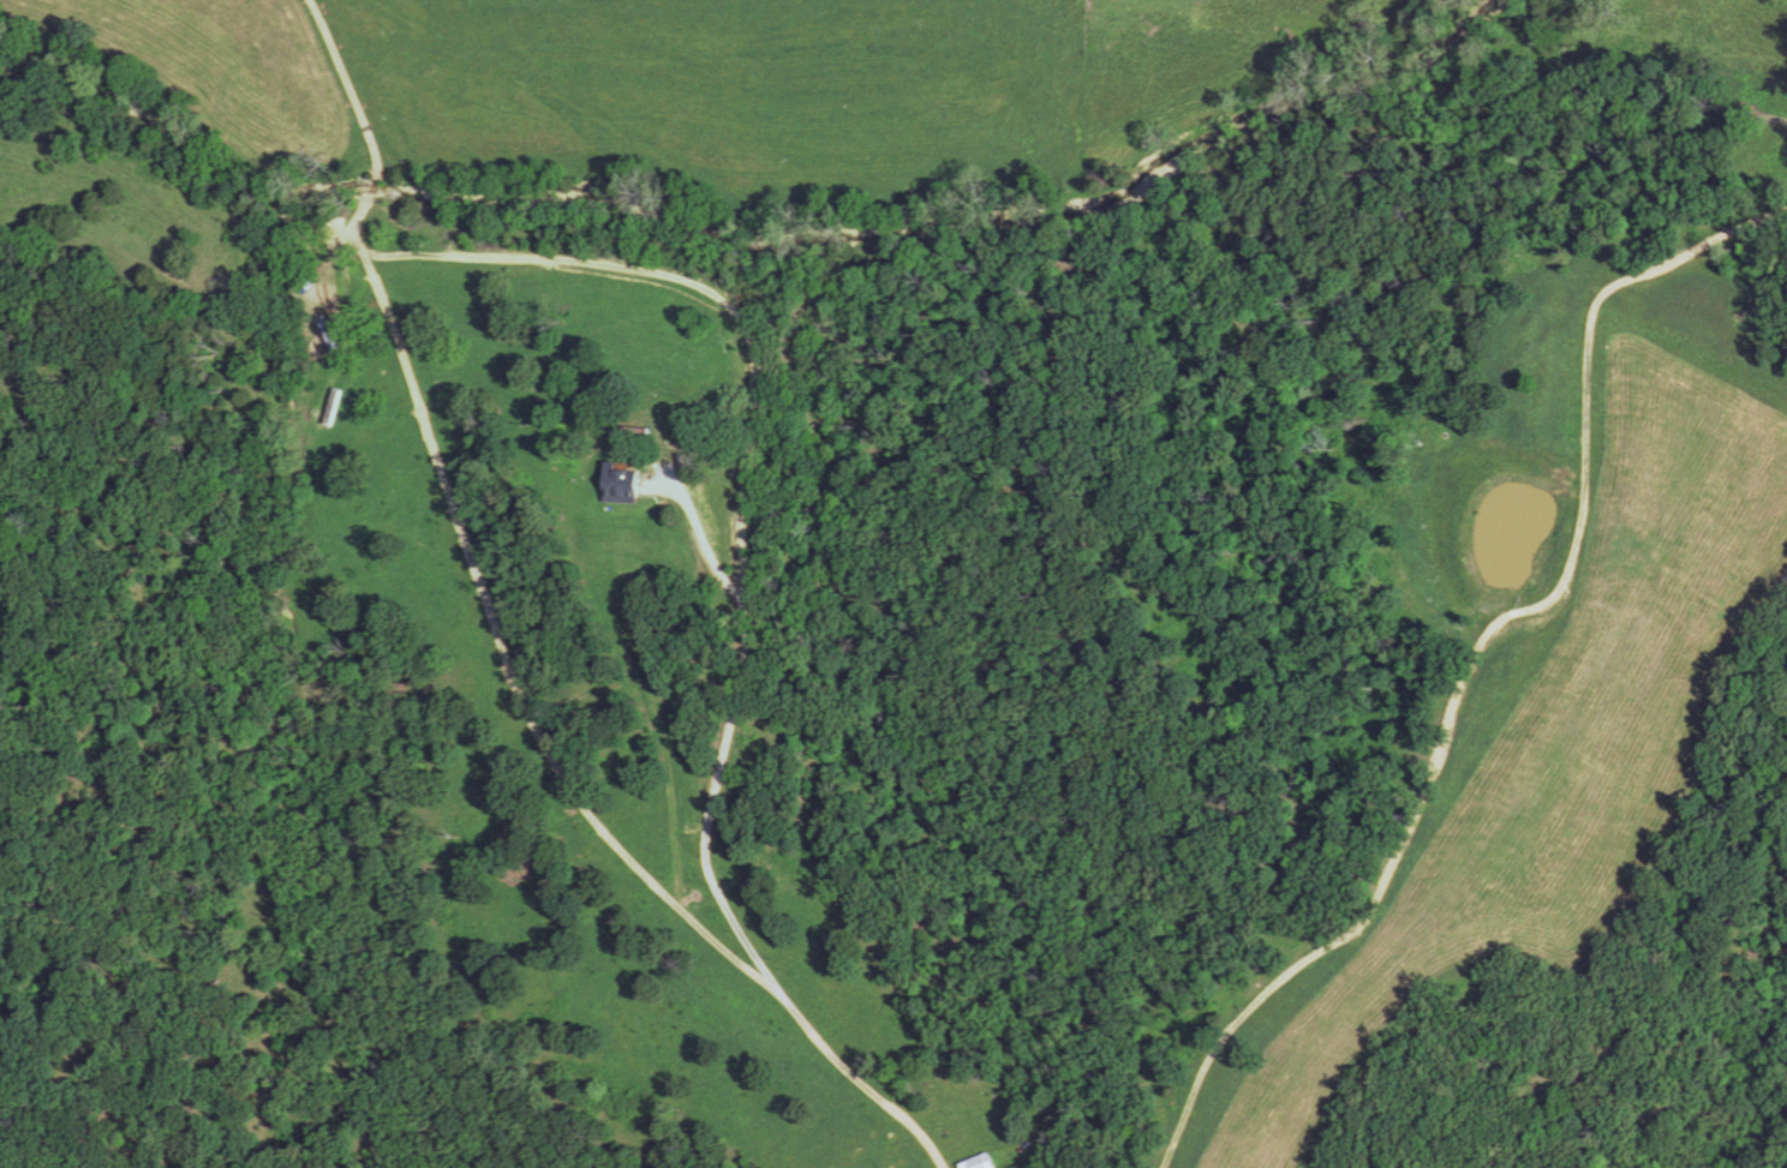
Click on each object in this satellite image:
building: (627, 432)
road: (500, 648)
road: (588, 690)
road: (655, 708)
road: (1265, 1006)

